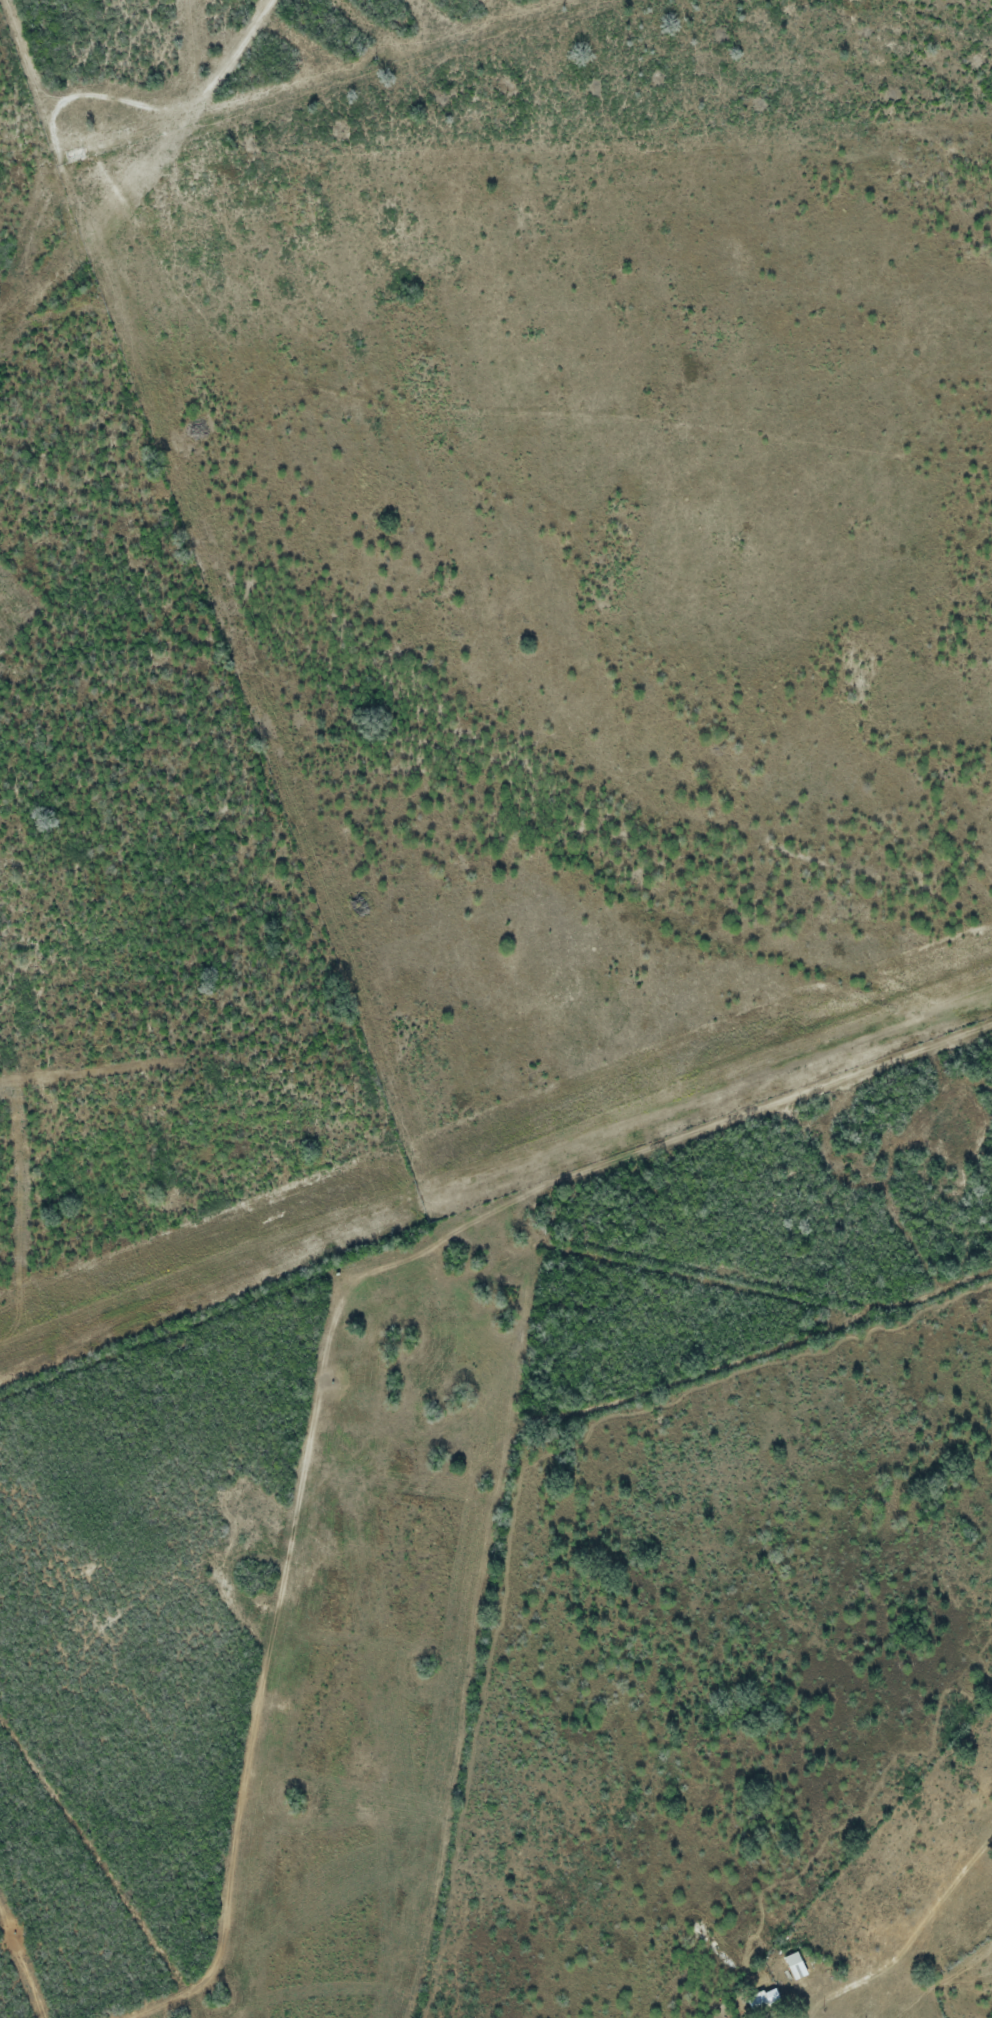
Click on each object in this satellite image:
building: (792, 1960)
building: (763, 1996)

